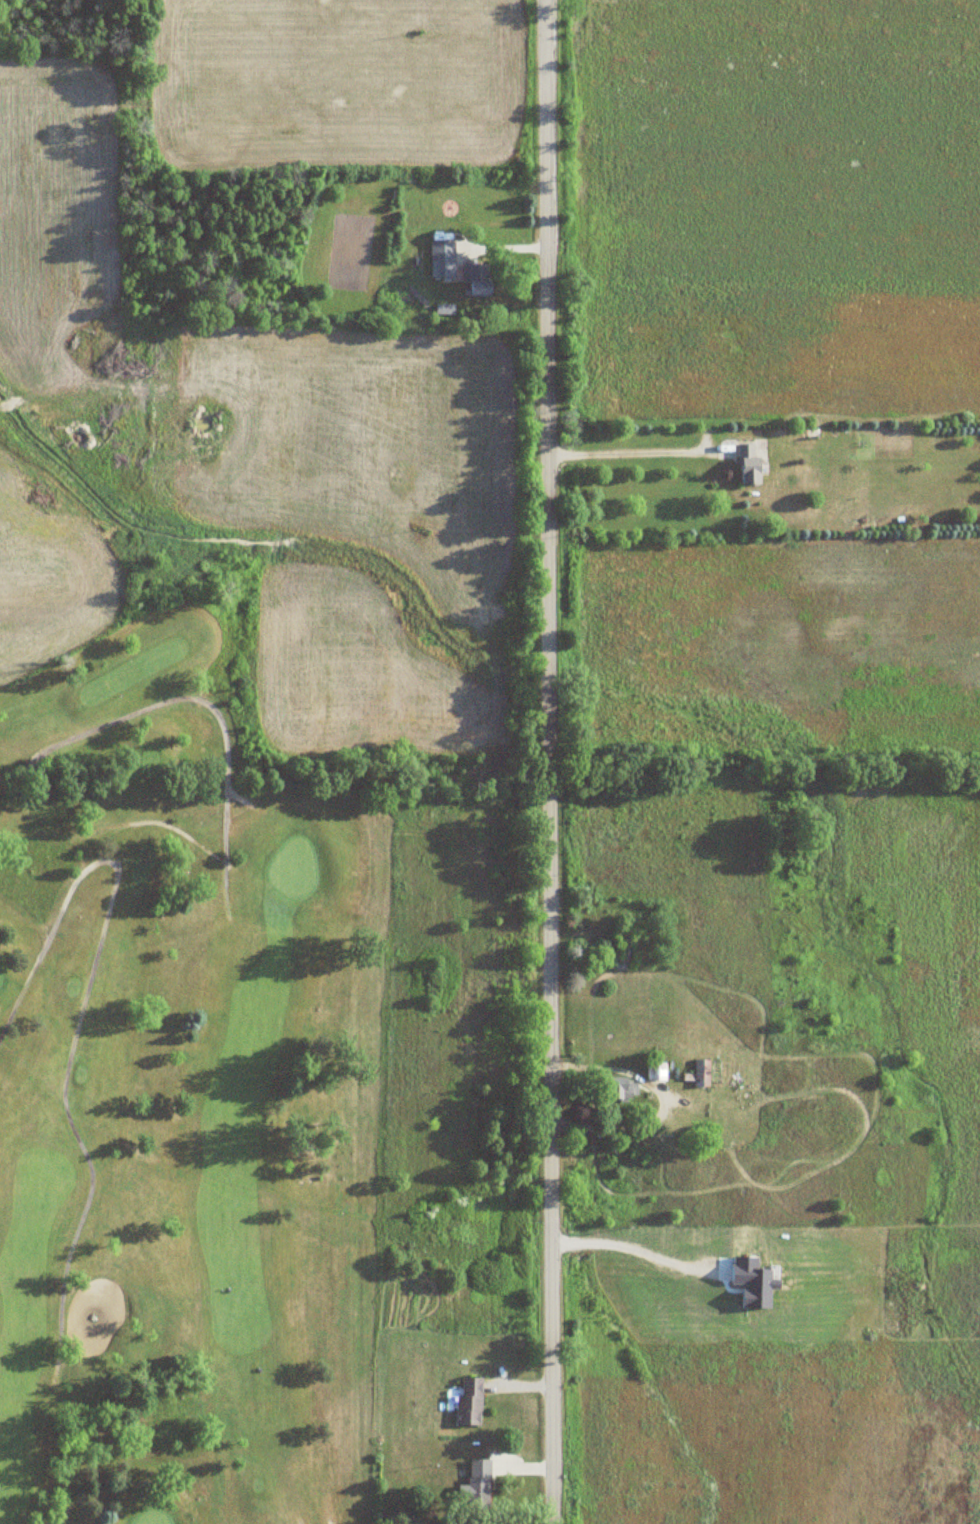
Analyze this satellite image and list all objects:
building: (443, 259)
building: (477, 278)
road: (629, 445)
building: (749, 465)
road: (764, 481)
road: (204, 702)
road: (547, 761)
road: (236, 798)
road: (180, 832)
road: (81, 1012)
building: (657, 1071)
building: (715, 1071)
park: (183, 1078)
building: (628, 1092)
road: (660, 1102)
road: (639, 1247)
building: (471, 1400)
building: (480, 1481)

